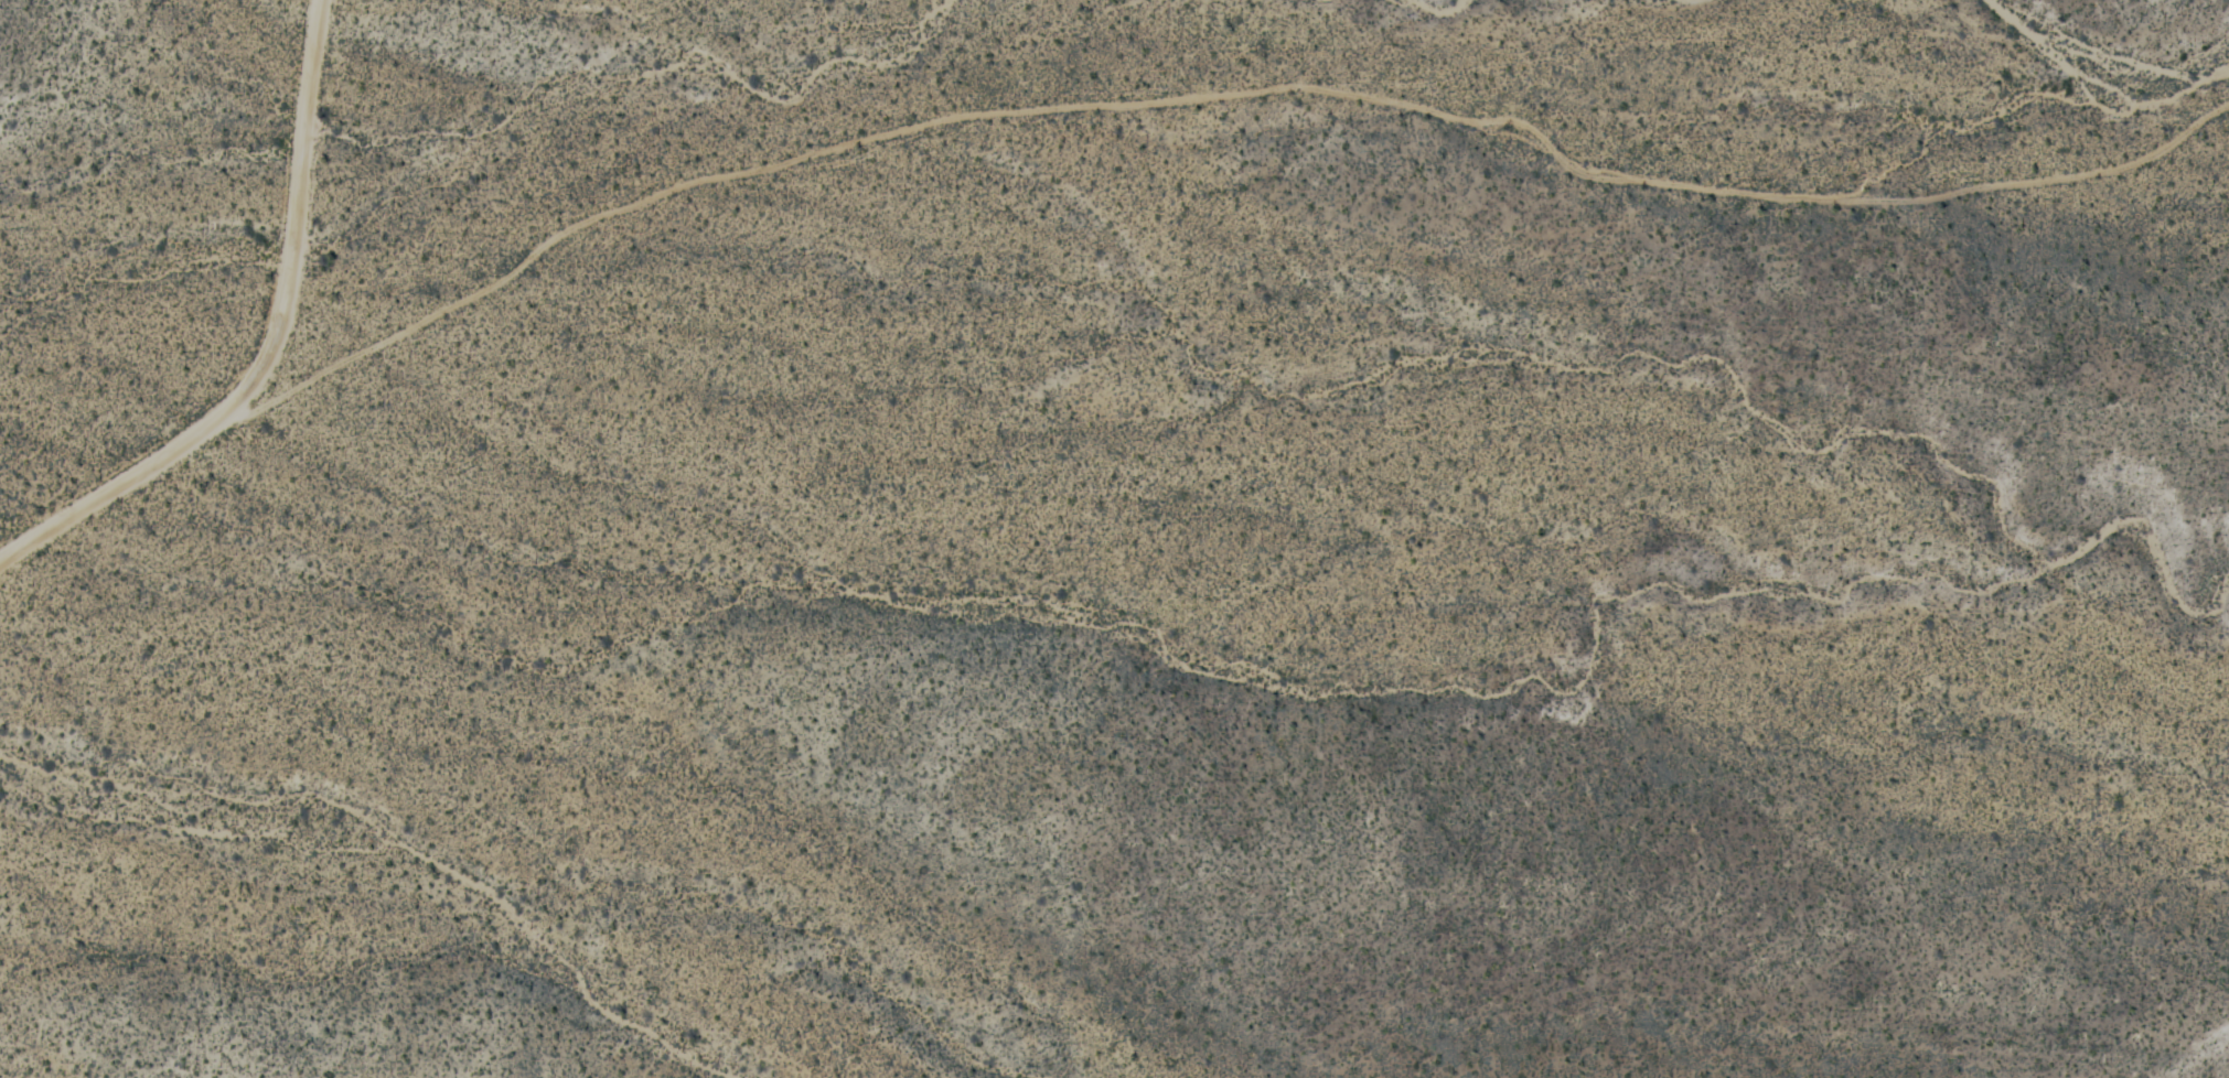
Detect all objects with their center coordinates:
road: (272, 346)

